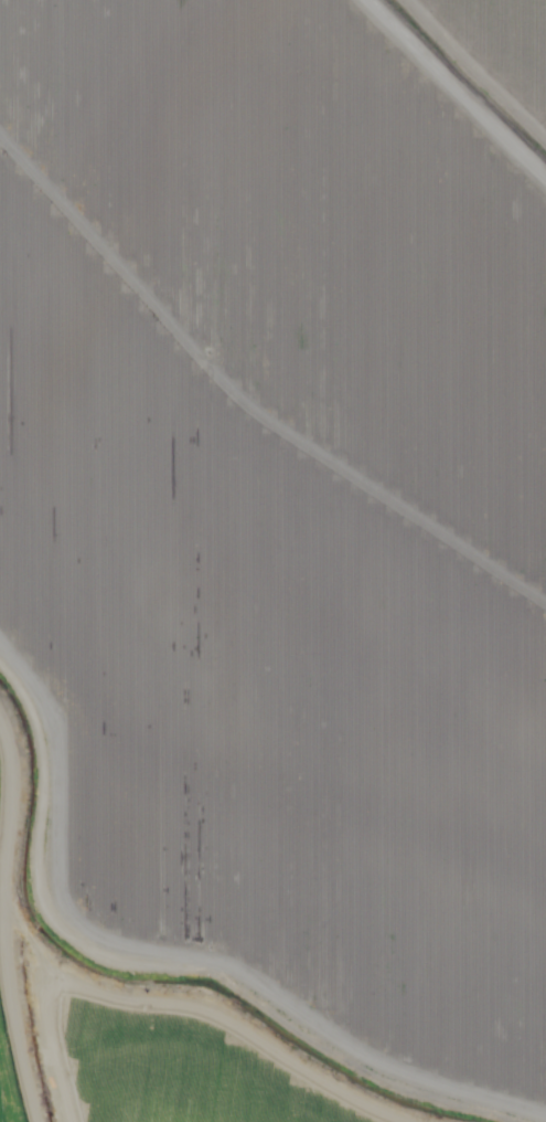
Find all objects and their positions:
crop: (511, 34)
crop: (468, 81)
crop: (279, 517)
crop: (19, 1015)
crop: (153, 1070)

